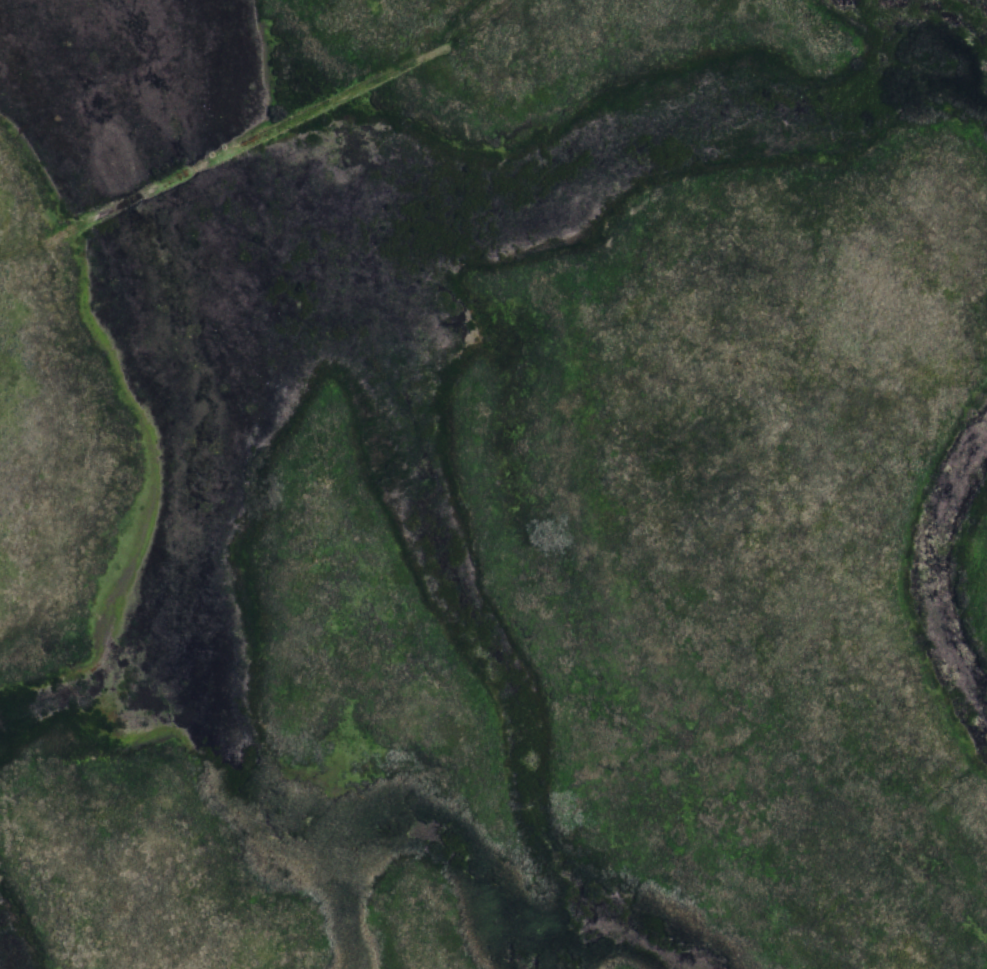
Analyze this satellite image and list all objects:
crop: (493, 484)

